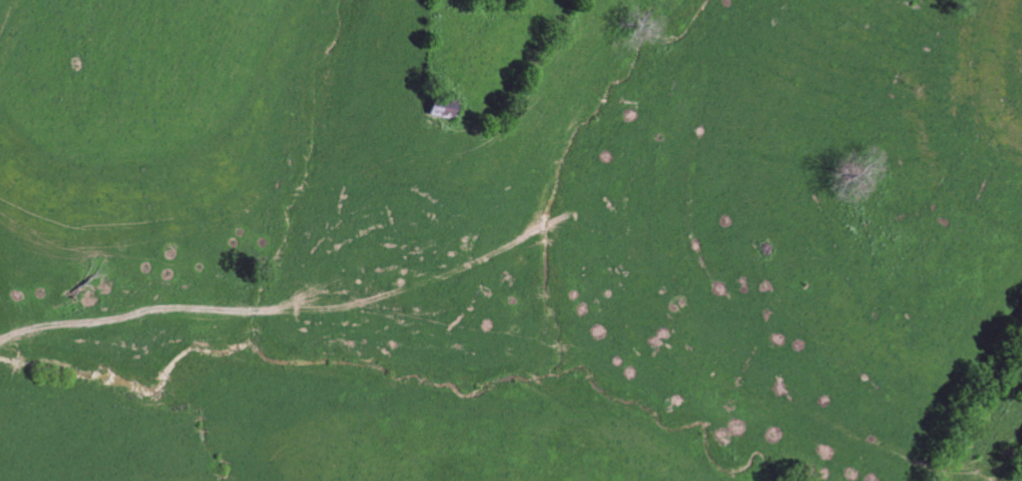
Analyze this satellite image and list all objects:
building: (442, 109)
road: (259, 318)

